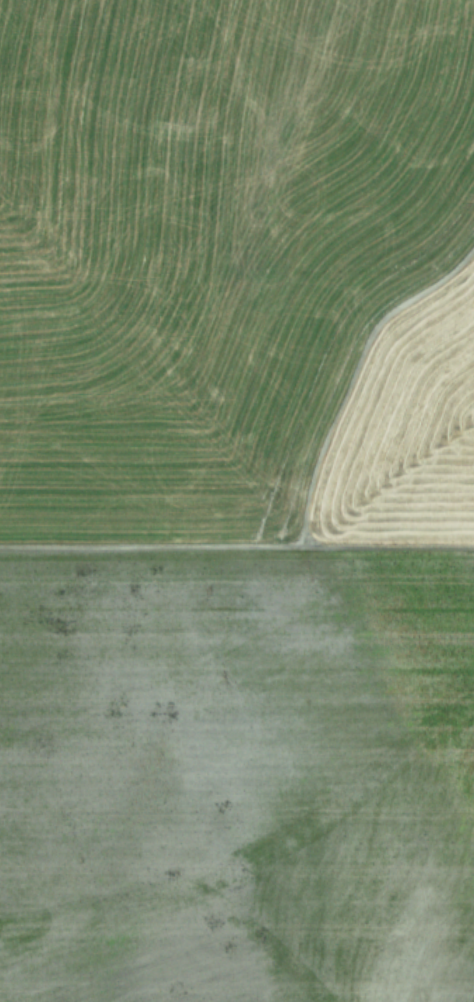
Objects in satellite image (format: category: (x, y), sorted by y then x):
crop: (237, 501)

